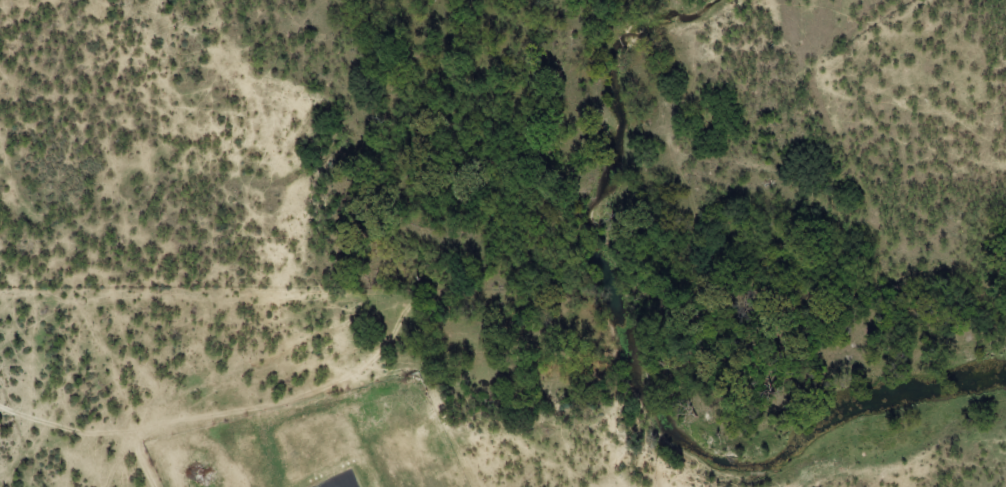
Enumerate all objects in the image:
airport: (317, 442)
airport runway: (341, 485)

